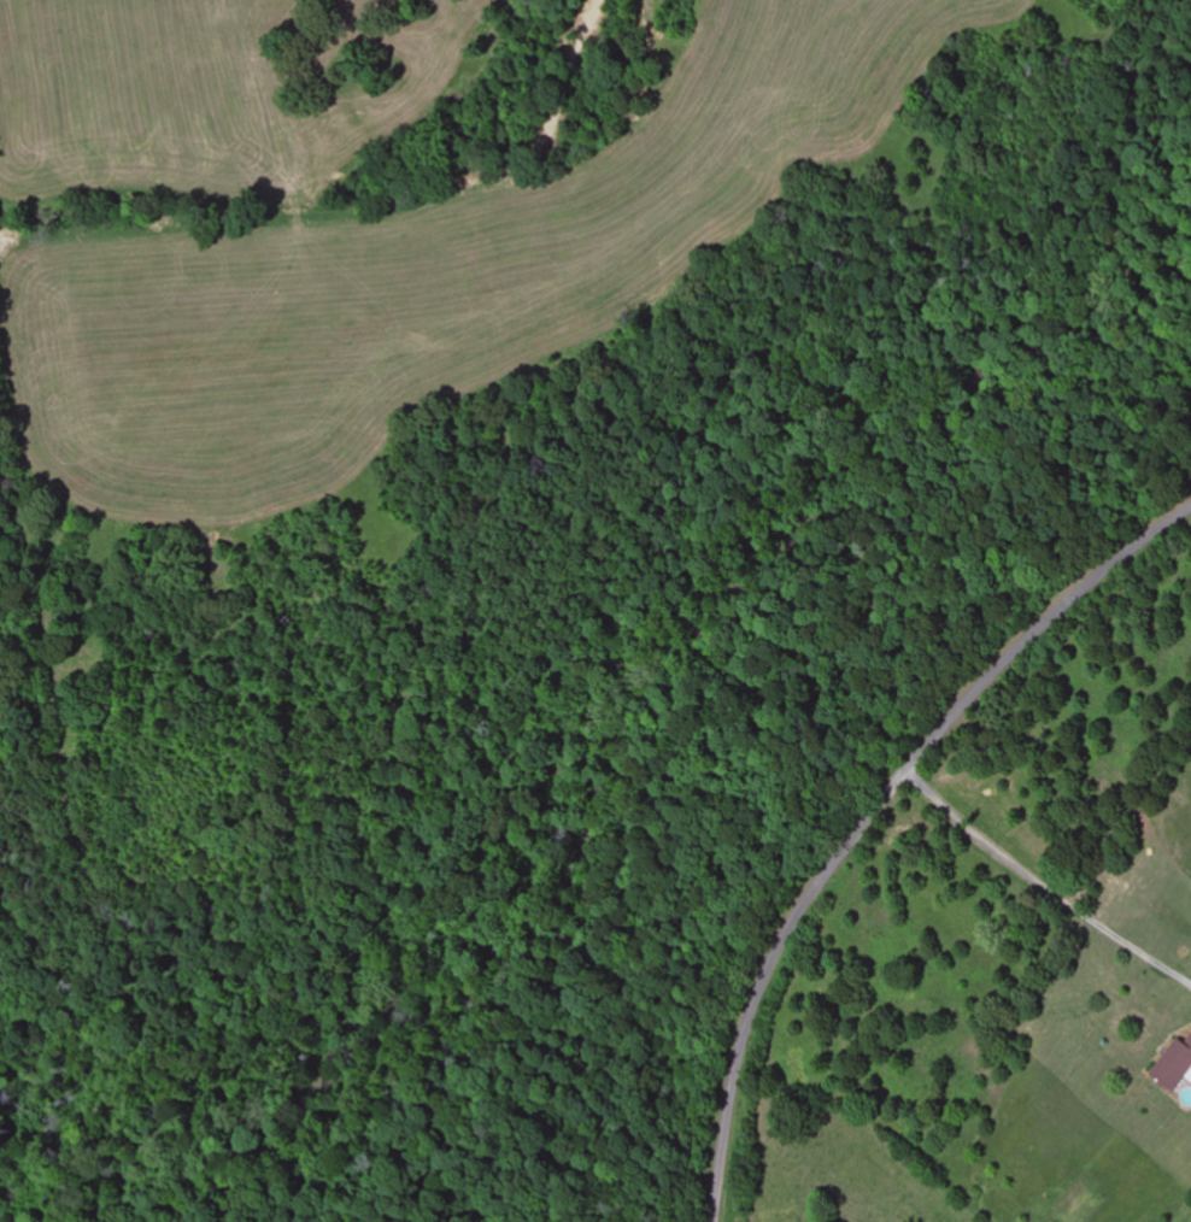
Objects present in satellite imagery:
road: (873, 816)
building: (1174, 1067)

